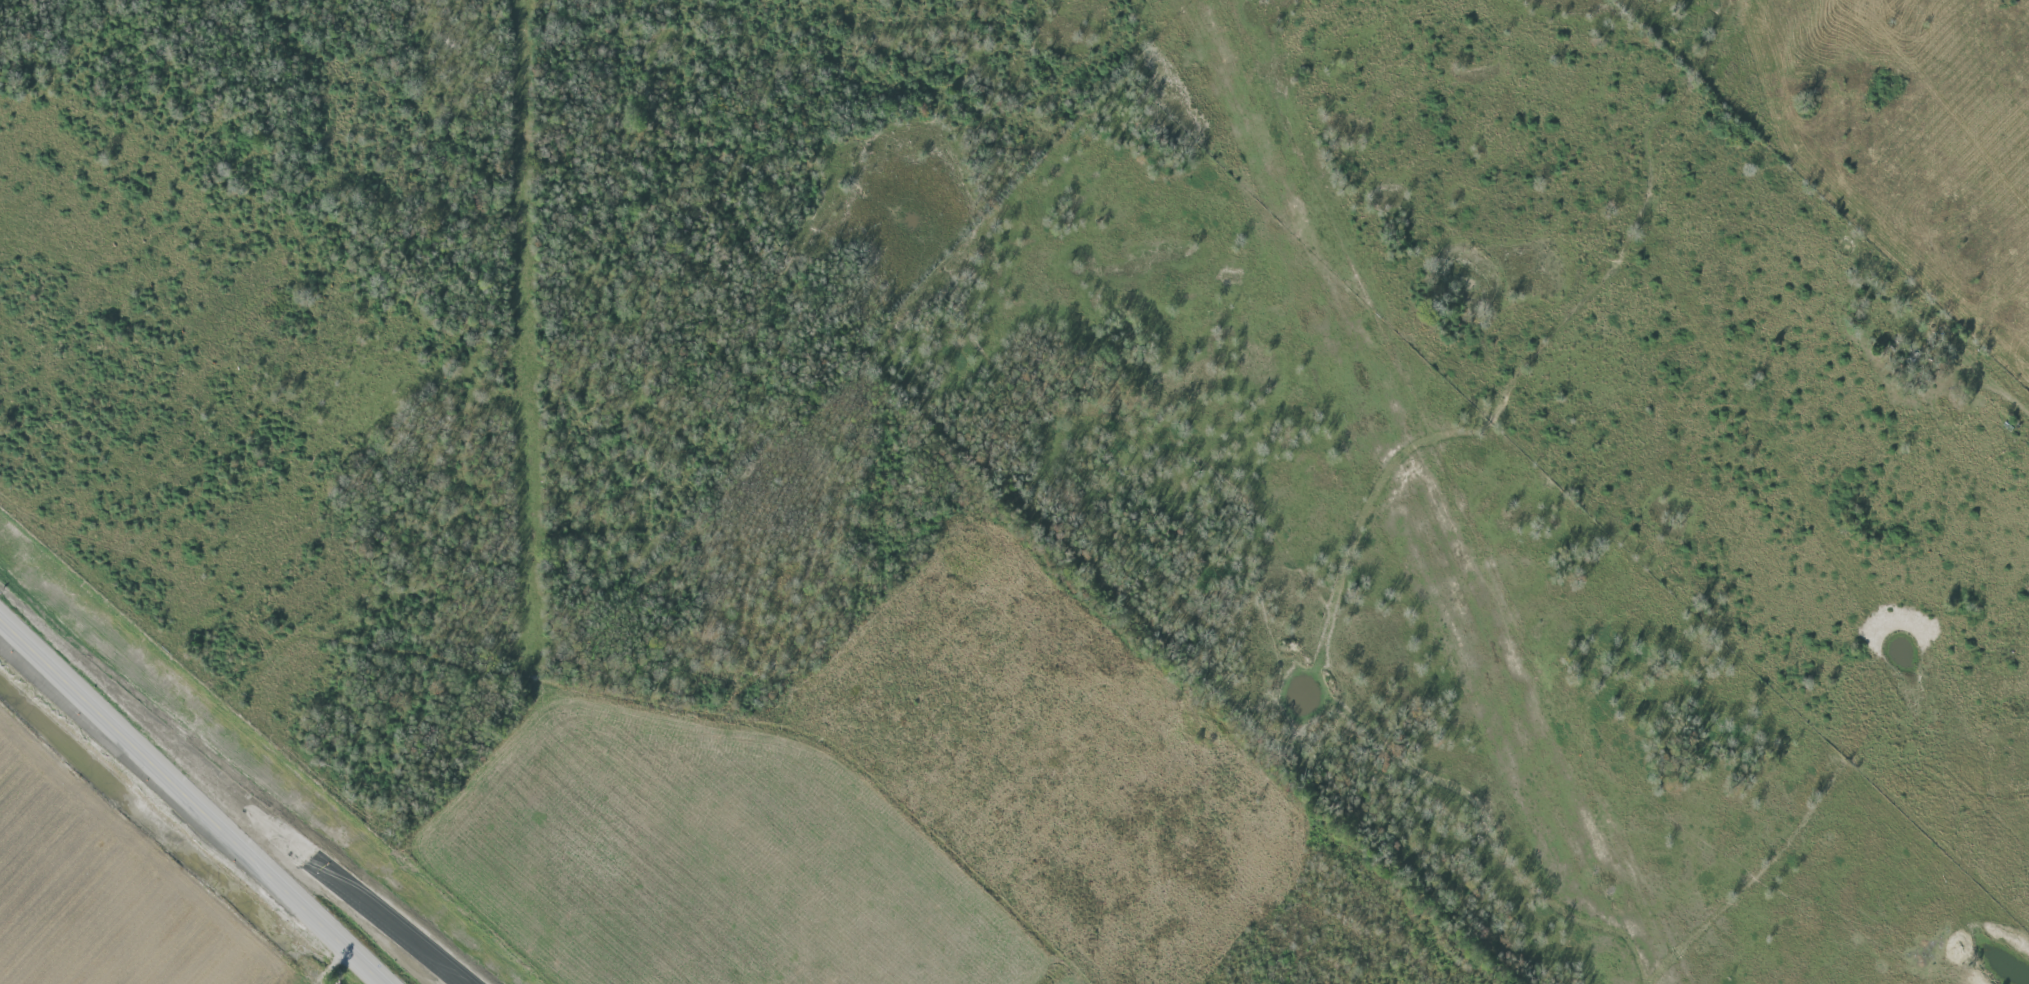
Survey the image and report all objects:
road: (192, 802)

